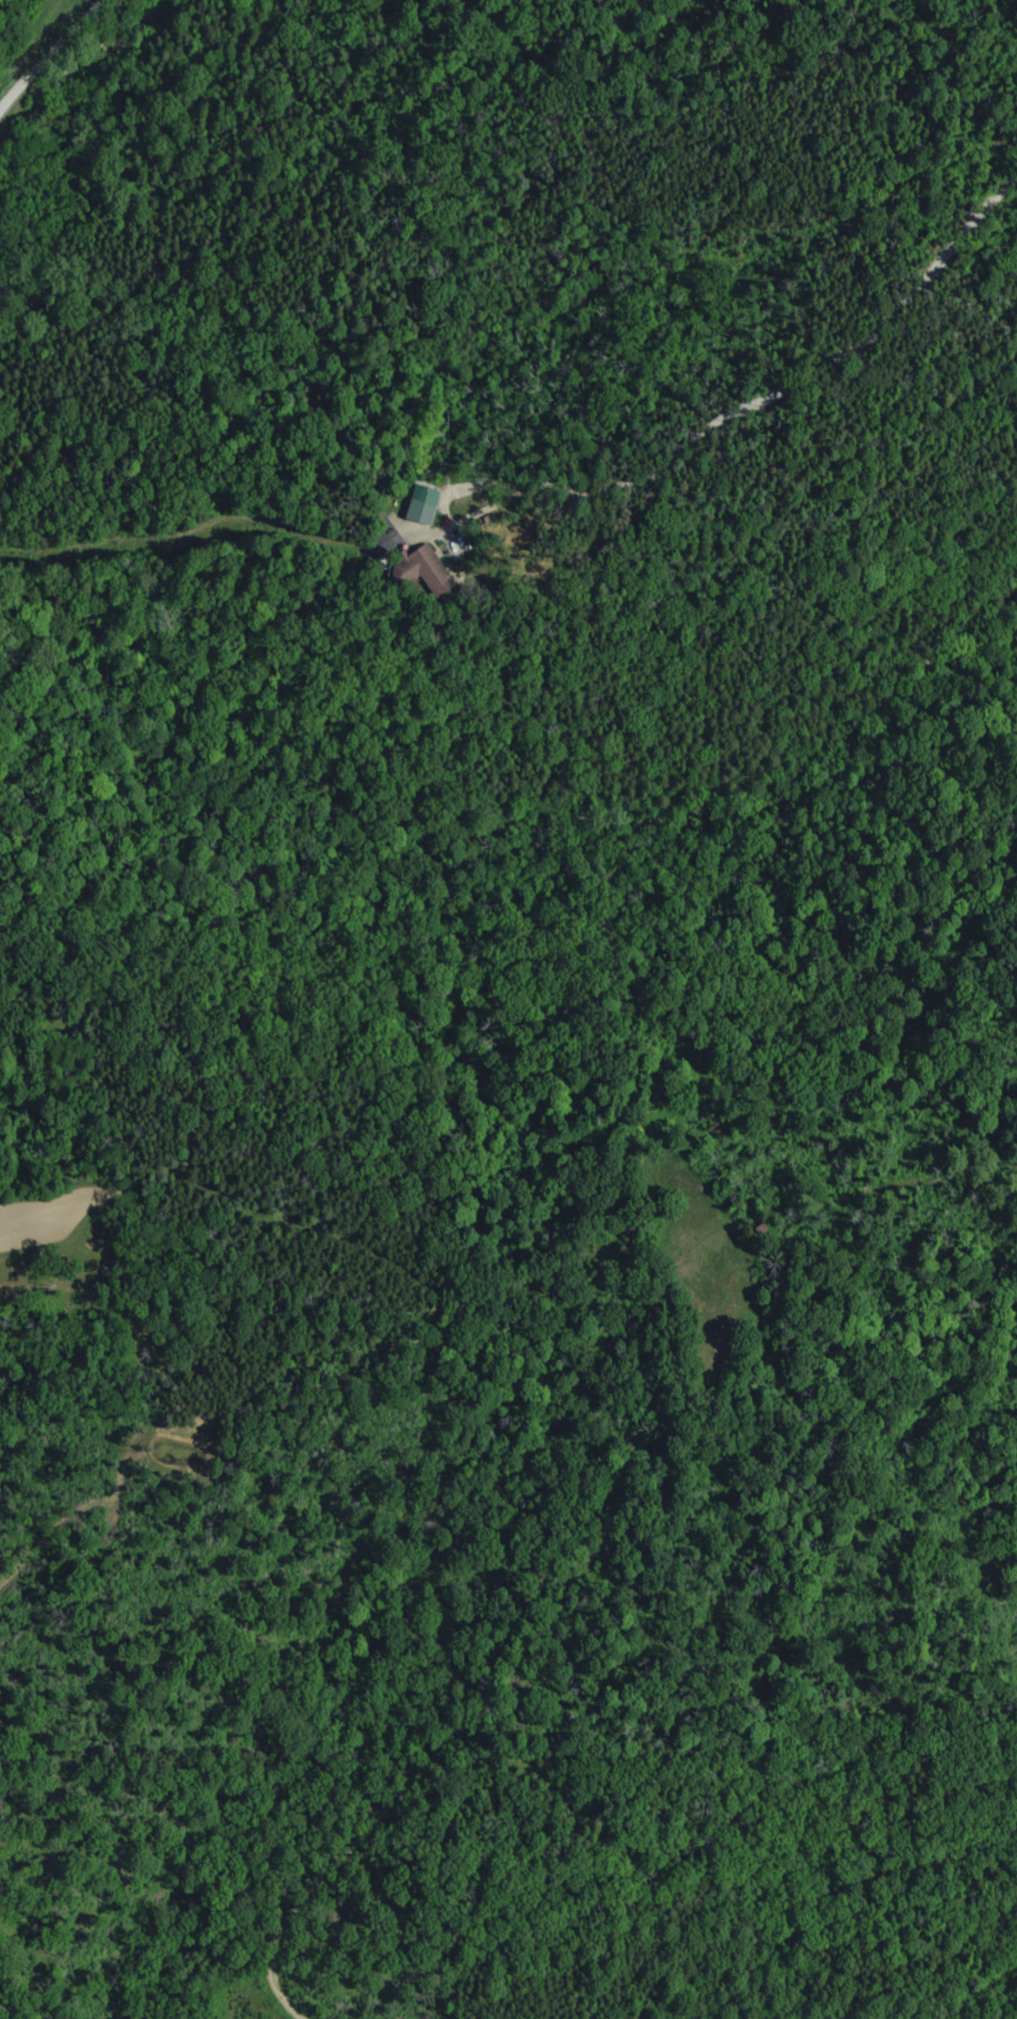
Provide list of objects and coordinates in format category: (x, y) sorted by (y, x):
road: (83, 77)
road: (560, 447)
building: (423, 505)
building: (424, 571)

